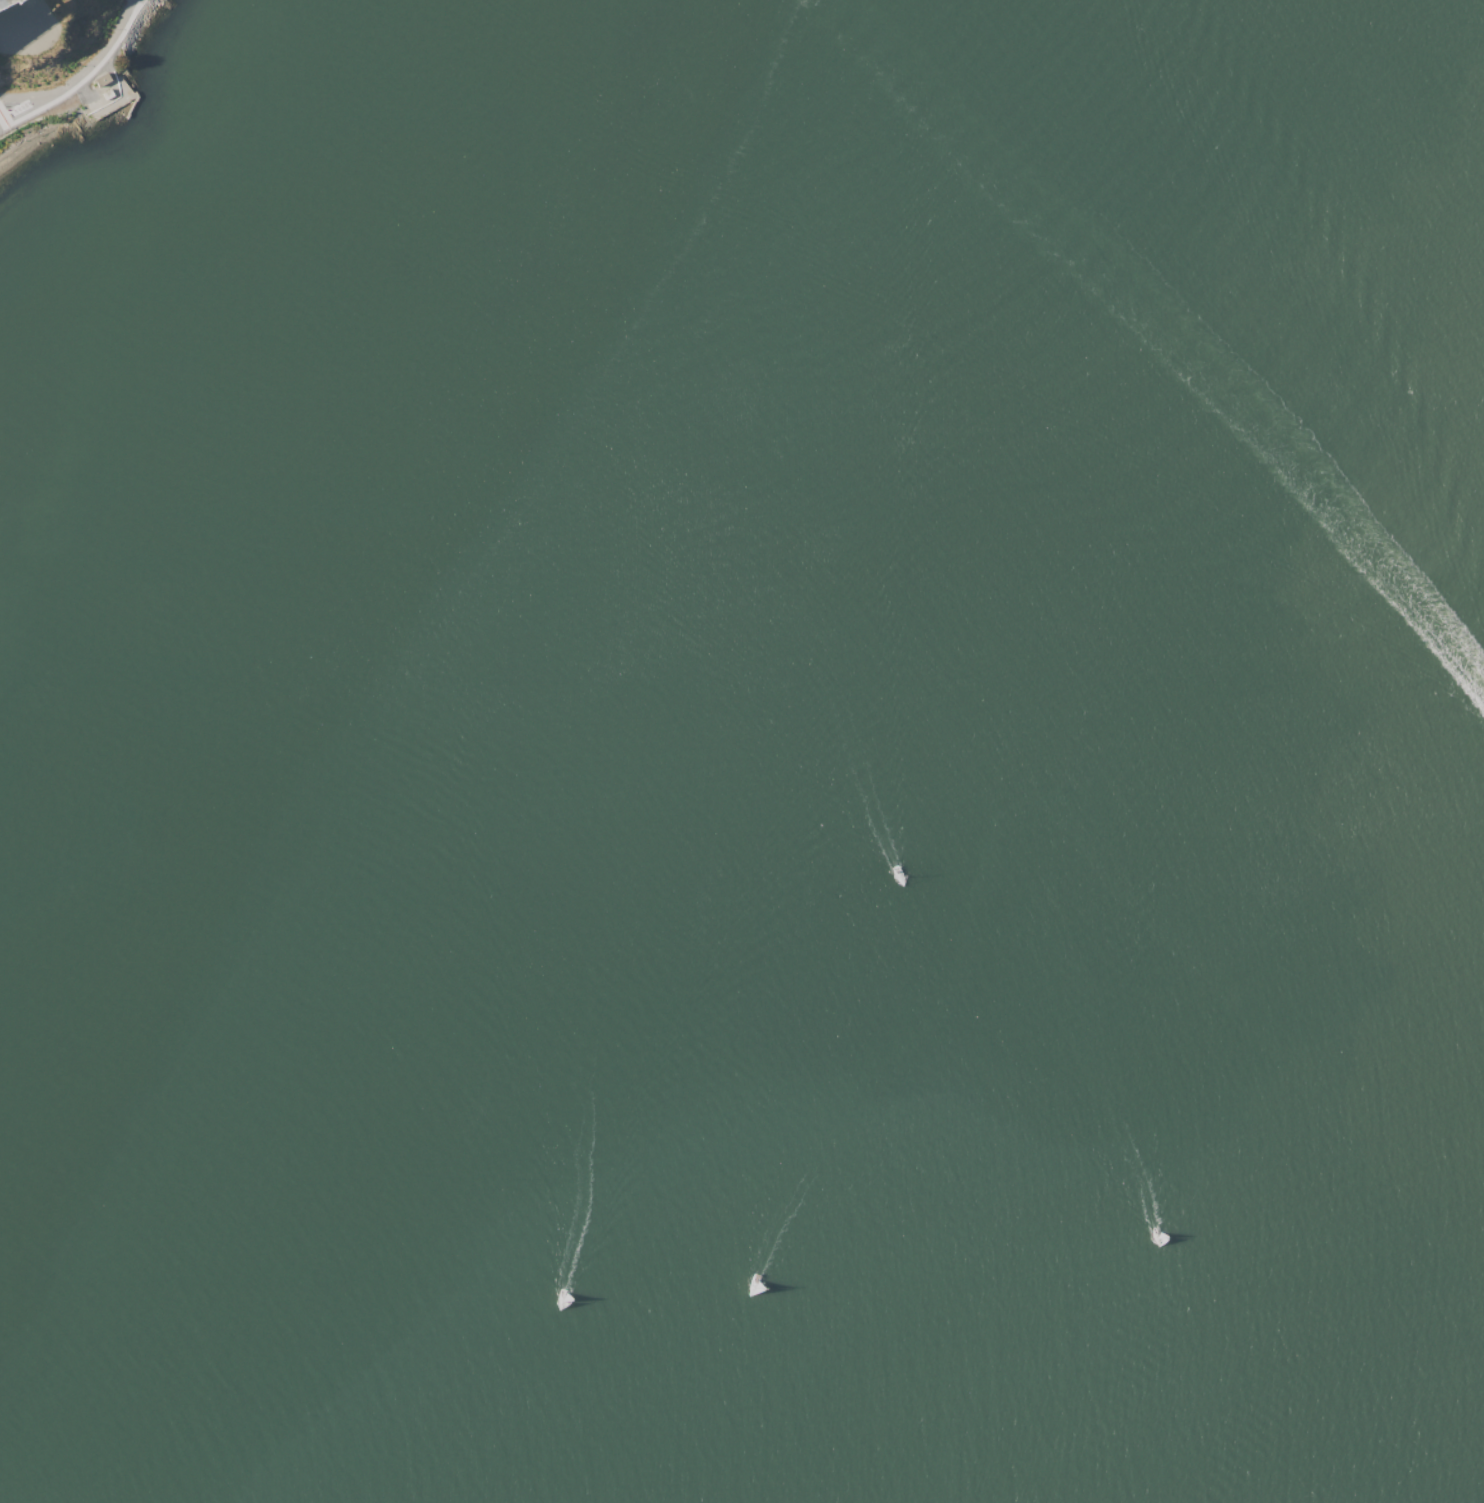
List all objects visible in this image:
road: (1, 0)
road: (138, 1)
road: (87, 72)
building: (106, 79)
building: (111, 94)
parking lot: (4, 122)

